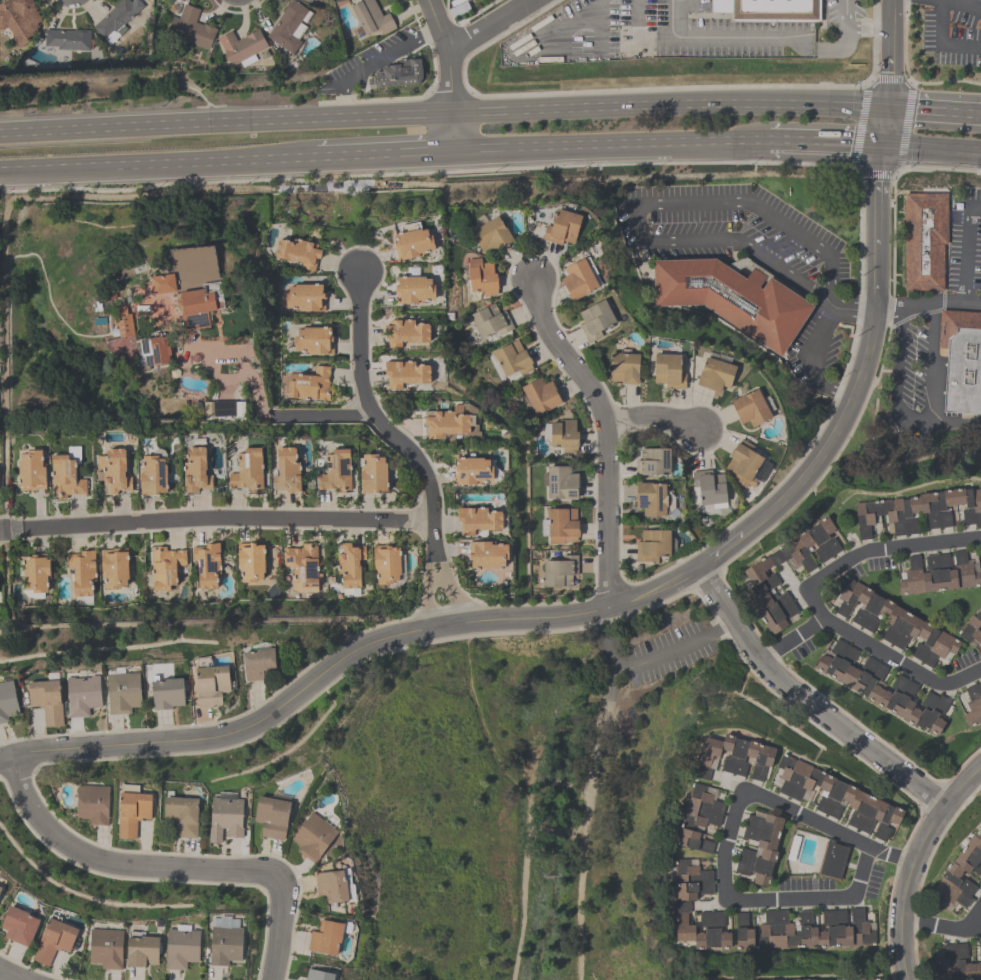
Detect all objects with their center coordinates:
building: (305, 0)
road: (936, 1)
road: (961, 6)
building: (772, 12)
building: (117, 16)
building: (371, 16)
building: (18, 20)
road: (438, 23)
building: (288, 26)
building: (190, 28)
road: (853, 30)
road: (753, 36)
building: (67, 39)
road: (462, 40)
road: (941, 43)
building: (241, 47)
road: (388, 54)
building: (397, 73)
road: (671, 100)
road: (346, 104)
traffic signals: (890, 105)
road: (935, 108)
road: (226, 122)
road: (454, 130)
road: (612, 143)
road: (826, 145)
traffic signals: (883, 149)
road: (384, 151)
road: (931, 151)
road: (156, 160)
road: (745, 202)
building: (562, 227)
building: (491, 235)
building: (412, 241)
building: (925, 244)
road: (966, 250)
road: (746, 251)
building: (298, 252)
building: (481, 277)
building: (578, 278)
building: (162, 283)
building: (413, 288)
building: (139, 289)
building: (305, 297)
building: (732, 300)
building: (200, 304)
road: (907, 308)
building: (595, 320)
building: (122, 321)
building: (489, 321)
parking lot: (933, 323)
building: (405, 332)
building: (313, 340)
building: (154, 350)
building: (512, 359)
road: (815, 362)
building: (960, 363)
road: (243, 365)
building: (624, 367)
building: (668, 371)
building: (405, 373)
building: (715, 374)
building: (310, 385)
building: (540, 395)
building: (751, 408)
building: (218, 409)
road: (654, 416)
road: (326, 417)
building: (448, 422)
road: (955, 422)
road: (919, 429)
building: (562, 435)
road: (605, 436)
road: (407, 447)
building: (653, 462)
building: (742, 464)
building: (31, 470)
building: (195, 470)
building: (248, 470)
building: (286, 470)
building: (113, 471)
building: (336, 471)
building: (472, 471)
building: (153, 474)
building: (373, 474)
building: (65, 478)
building: (560, 482)
building: (709, 488)
building: (651, 498)
building: (918, 511)
road: (232, 519)
building: (478, 520)
building: (561, 525)
road: (20, 530)
road: (4, 532)
building: (652, 546)
building: (486, 554)
building: (250, 561)
building: (385, 563)
building: (206, 564)
building: (302, 564)
building: (349, 564)
building: (165, 566)
building: (114, 567)
building: (560, 572)
building: (35, 573)
building: (938, 574)
building: (81, 575)
building: (755, 576)
building: (0, 586)
road: (652, 592)
road: (810, 598)
building: (894, 623)
building: (972, 627)
road: (791, 637)
parking lot: (656, 656)
road: (647, 662)
building: (258, 663)
building: (210, 682)
building: (882, 687)
building: (123, 691)
building: (167, 692)
building: (82, 694)
road: (806, 699)
building: (7, 700)
building: (46, 700)
building: (973, 704)
building: (733, 756)
park: (526, 795)
building: (835, 797)
building: (92, 803)
building: (132, 810)
road: (735, 812)
building: (182, 815)
building: (226, 816)
building: (272, 816)
building: (698, 819)
building: (762, 830)
building: (313, 836)
road: (887, 853)
building: (832, 860)
road: (912, 861)
building: (755, 863)
road: (169, 866)
building: (957, 868)
building: (691, 879)
building: (331, 885)
building: (0, 888)
road: (974, 916)
building: (683, 921)
building: (861, 925)
building: (18, 926)
road: (939, 926)
building: (807, 930)
building: (833, 930)
building: (711, 931)
building: (743, 931)
building: (776, 931)
building: (325, 938)
building: (53, 940)
building: (225, 944)
building: (181, 947)
building: (106, 948)
building: (979, 948)
building: (141, 950)
building: (958, 963)
building: (317, 975)
road: (4, 976)
building: (859, 979)
building: (873, 979)

